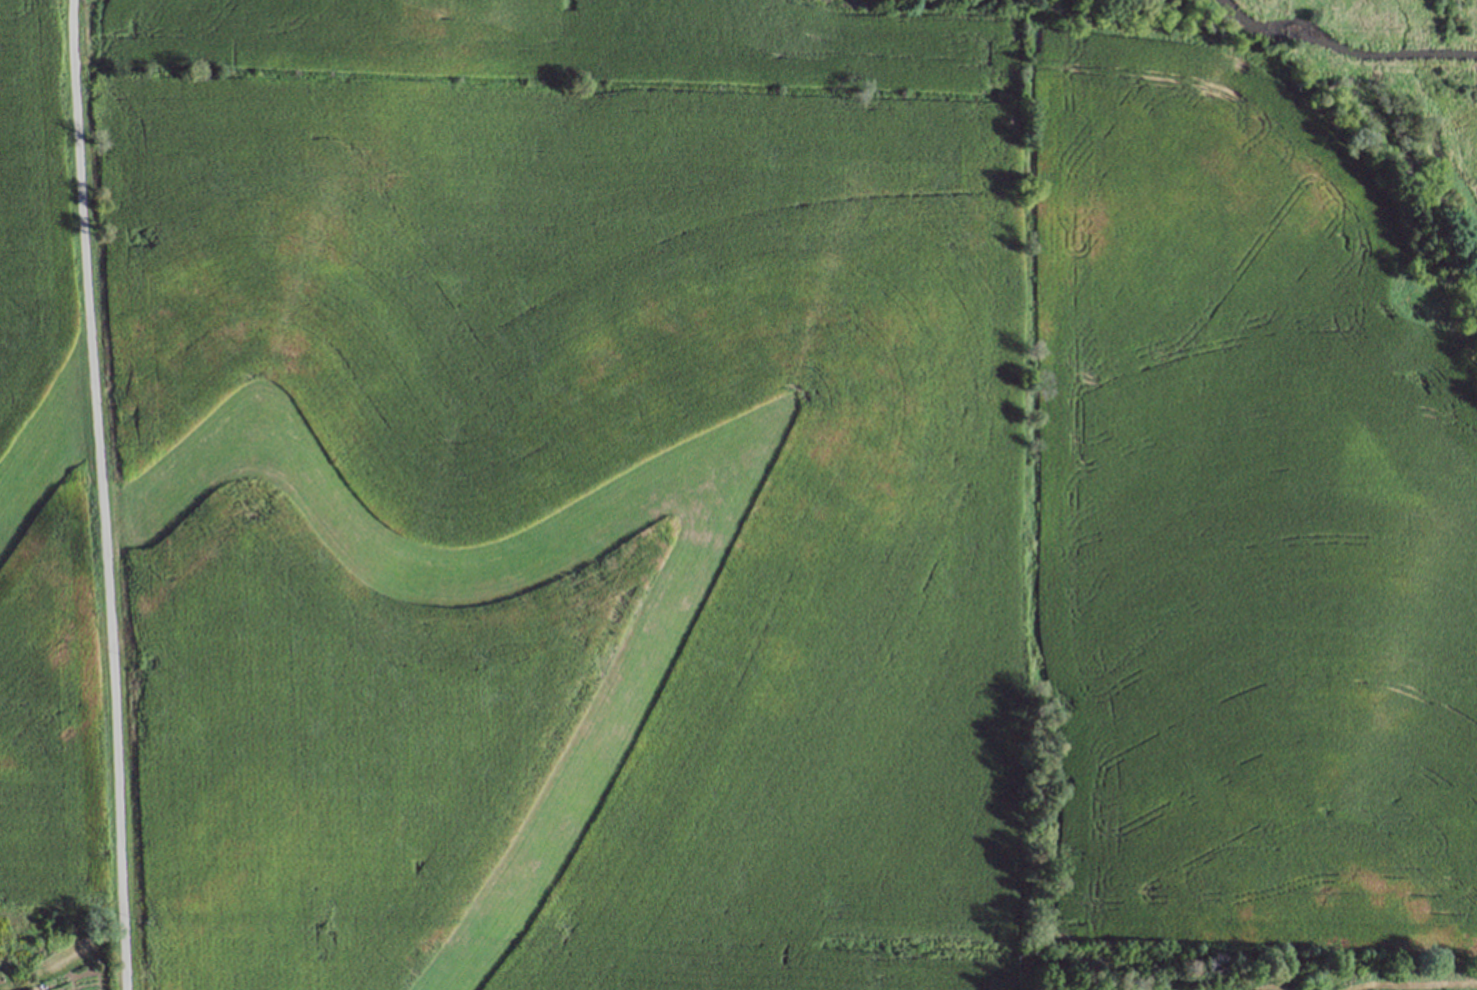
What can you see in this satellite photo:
road: (103, 494)
crop: (40, 515)
crop: (774, 522)

